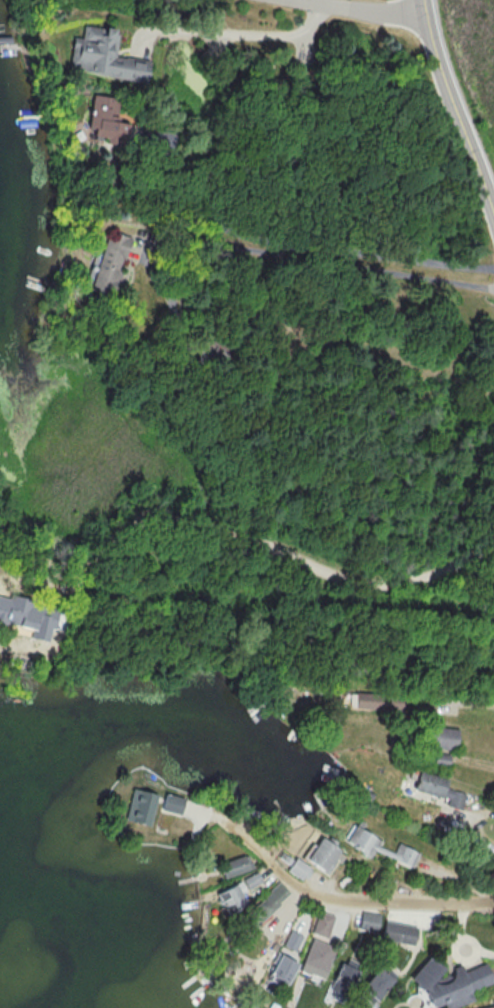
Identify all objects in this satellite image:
road: (359, 11)
road: (240, 33)
building: (104, 55)
road: (454, 108)
building: (106, 120)
road: (307, 247)
road: (317, 259)
building: (108, 263)
road: (240, 532)
building: (371, 700)
building: (440, 736)
building: (442, 758)
building: (440, 788)
building: (369, 794)
building: (172, 803)
building: (140, 805)
building: (363, 843)
building: (322, 852)
building: (294, 864)
building: (236, 865)
building: (251, 879)
building: (231, 896)
road: (336, 897)
building: (266, 902)
road: (461, 919)
building: (369, 921)
building: (322, 923)
building: (400, 932)
building: (291, 940)
road: (455, 941)
road: (484, 952)
building: (317, 958)
building: (281, 967)
building: (344, 976)
building: (379, 980)
building: (449, 981)
building: (485, 1006)

